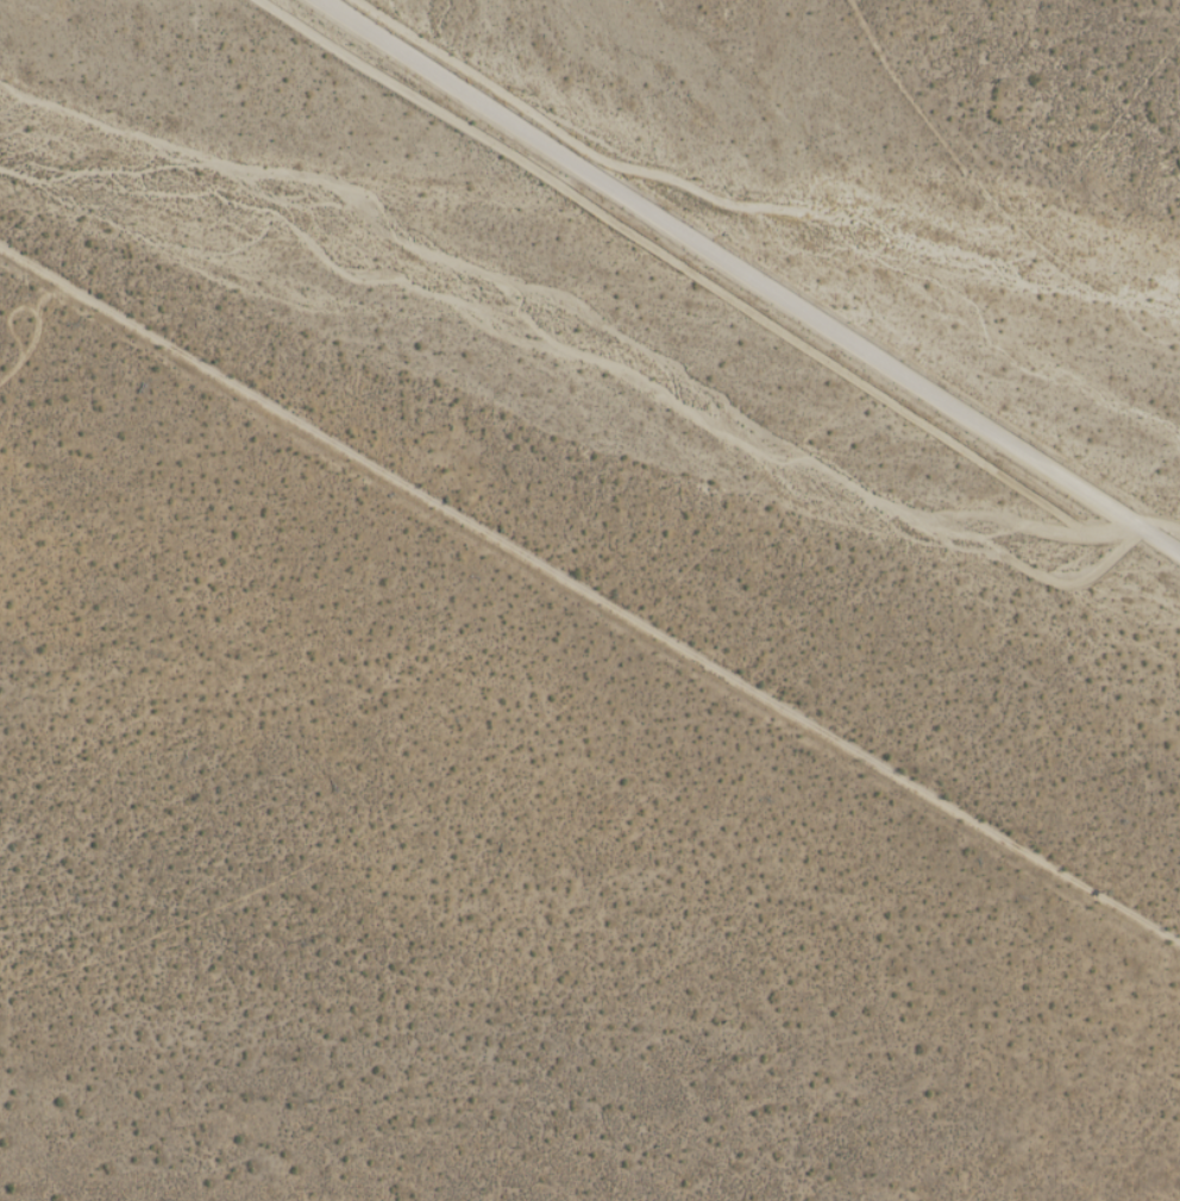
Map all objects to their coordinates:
road: (751, 274)
road: (589, 595)

